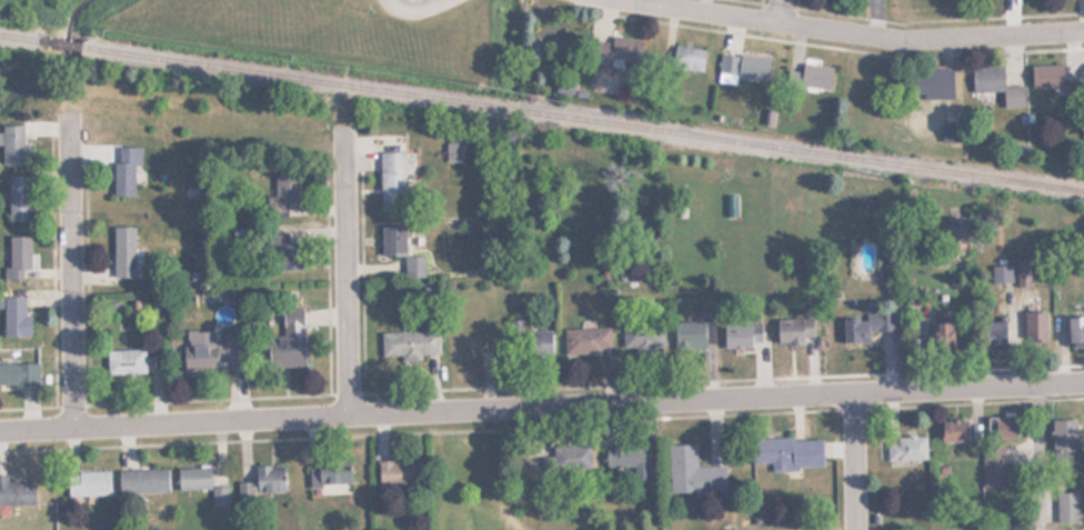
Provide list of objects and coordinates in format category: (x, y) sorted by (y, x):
road: (769, 1)
road: (803, 3)
road: (781, 11)
road: (916, 22)
road: (863, 33)
railway: (18, 40)
railway: (58, 46)
road: (822, 46)
building: (612, 50)
building: (687, 58)
building: (743, 66)
building: (814, 74)
building: (1047, 76)
building: (931, 83)
building: (996, 86)
railway: (582, 120)
building: (947, 131)
building: (12, 143)
building: (124, 170)
building: (391, 180)
building: (284, 193)
building: (18, 197)
building: (401, 250)
building: (123, 251)
building: (289, 254)
building: (17, 256)
road: (61, 266)
road: (96, 269)
building: (1022, 270)
road: (77, 272)
road: (352, 272)
road: (369, 272)
building: (1001, 272)
building: (12, 314)
building: (859, 328)
building: (1035, 329)
building: (1074, 330)
building: (789, 331)
building: (691, 332)
building: (994, 333)
building: (742, 334)
building: (643, 336)
building: (936, 336)
building: (289, 339)
building: (586, 340)
building: (411, 343)
building: (538, 343)
building: (470, 346)
building: (229, 347)
building: (199, 350)
building: (124, 362)
building: (18, 374)
road: (541, 389)
road: (541, 406)
road: (542, 426)
building: (1001, 426)
building: (953, 431)
building: (1064, 441)
building: (905, 448)
building: (787, 452)
road: (1038, 457)
building: (624, 461)
road: (855, 461)
building: (994, 467)
building: (692, 472)
building: (397, 473)
building: (329, 477)
building: (192, 478)
building: (268, 479)
building: (142, 481)
building: (87, 483)
building: (16, 492)
building: (219, 497)
building: (1066, 507)

